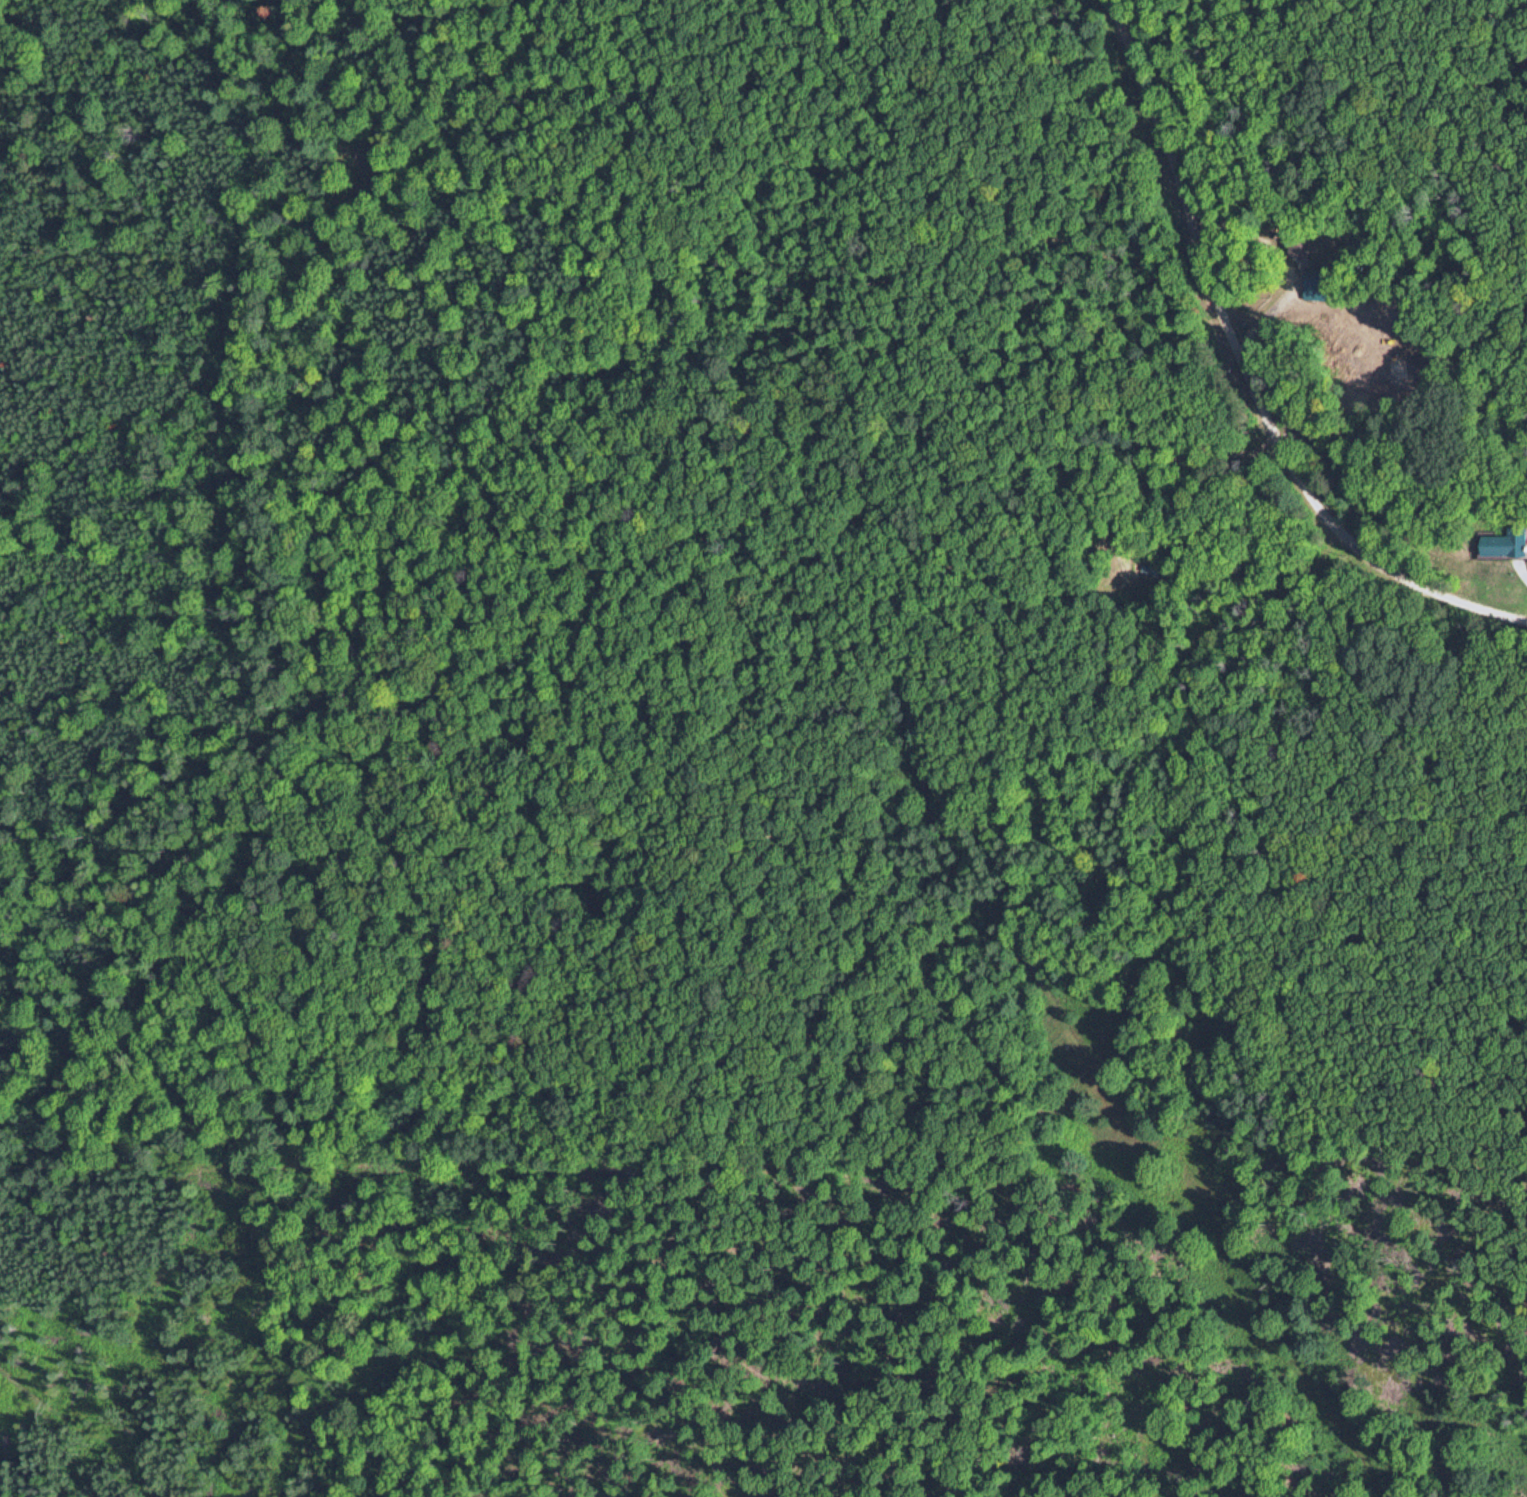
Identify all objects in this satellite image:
building: (1301, 246)
building: (1315, 283)
road: (1249, 369)
building: (1506, 543)

